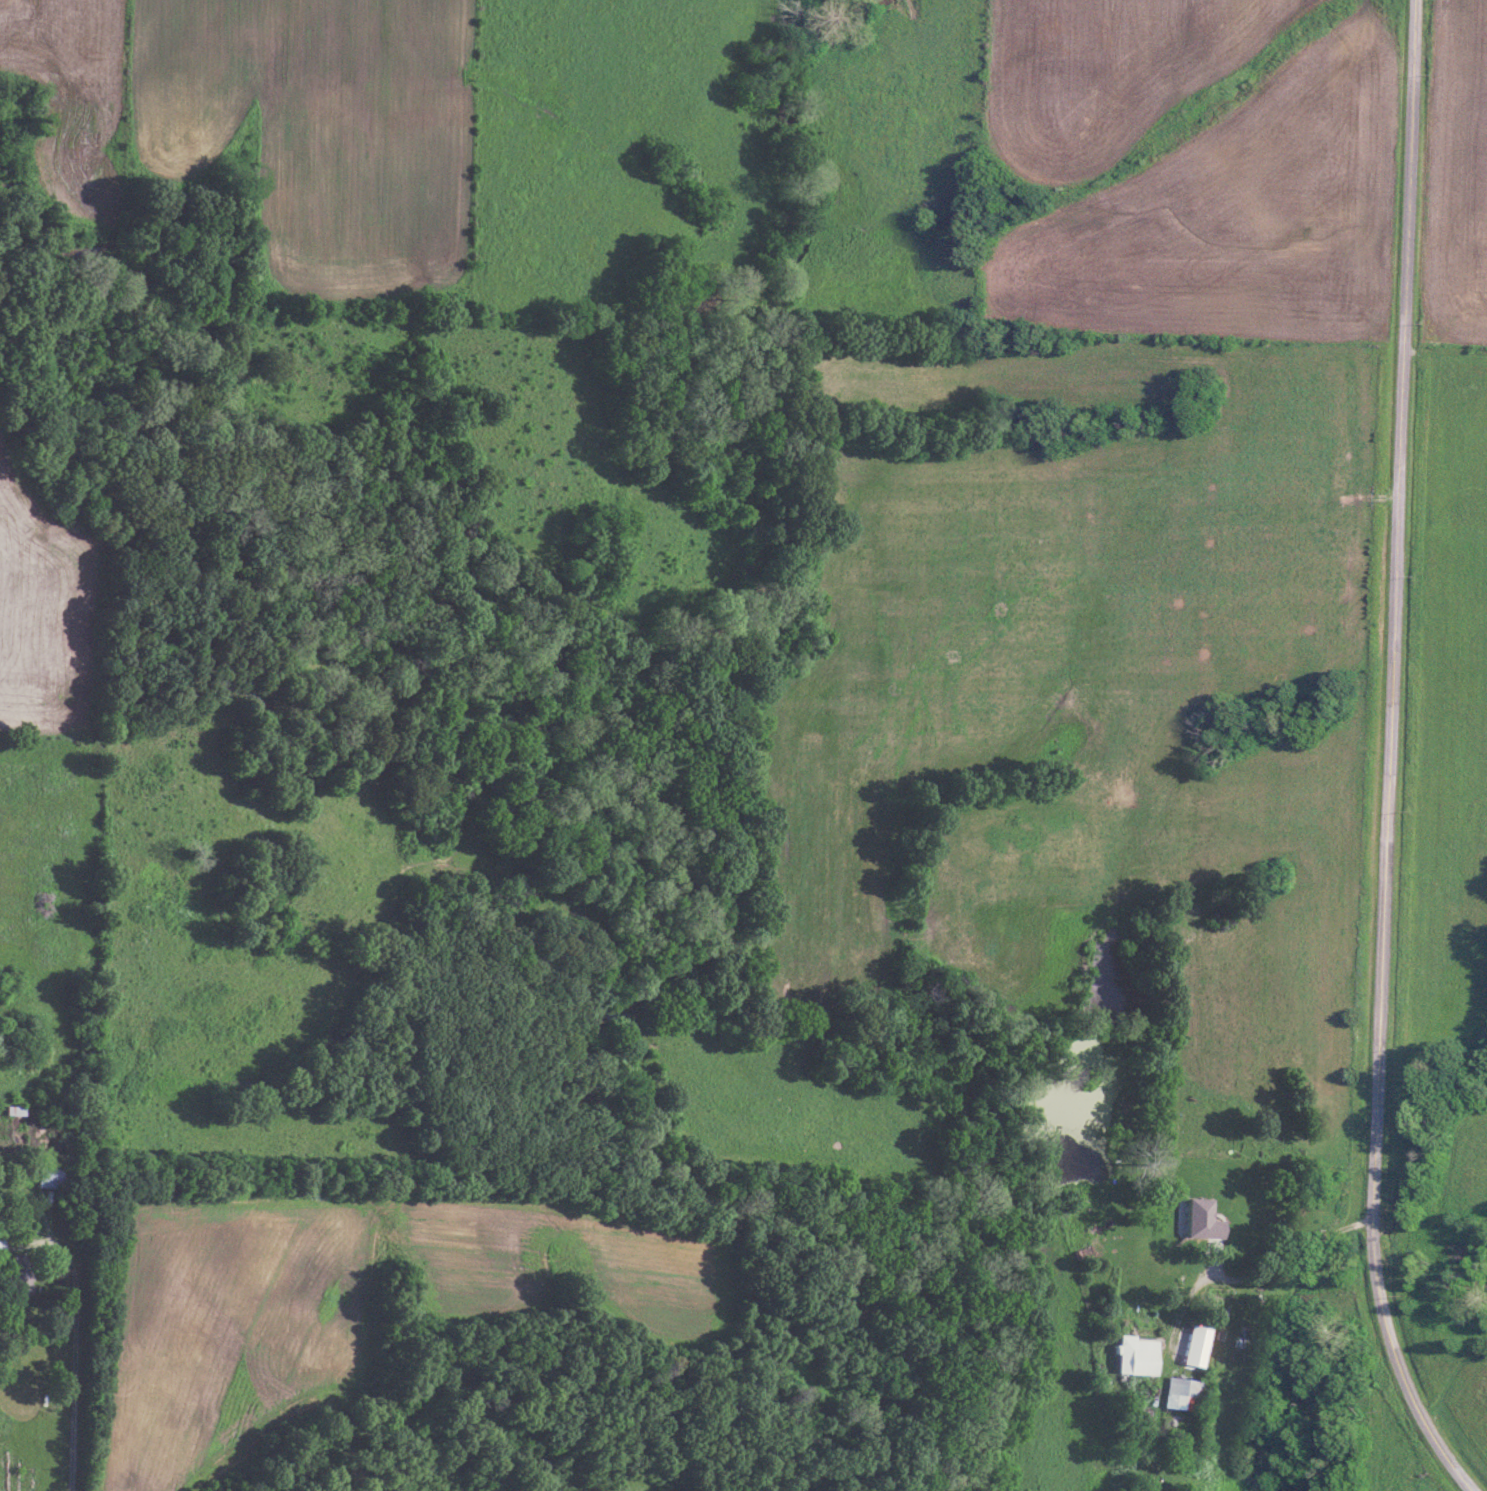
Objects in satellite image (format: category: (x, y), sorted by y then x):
road: (1387, 757)
building: (9, 1111)
building: (43, 1178)
building: (0, 1248)
road: (1292, 1253)
building: (15, 1284)
road: (74, 1341)
building: (1187, 1347)
building: (1130, 1356)
building: (1179, 1394)

